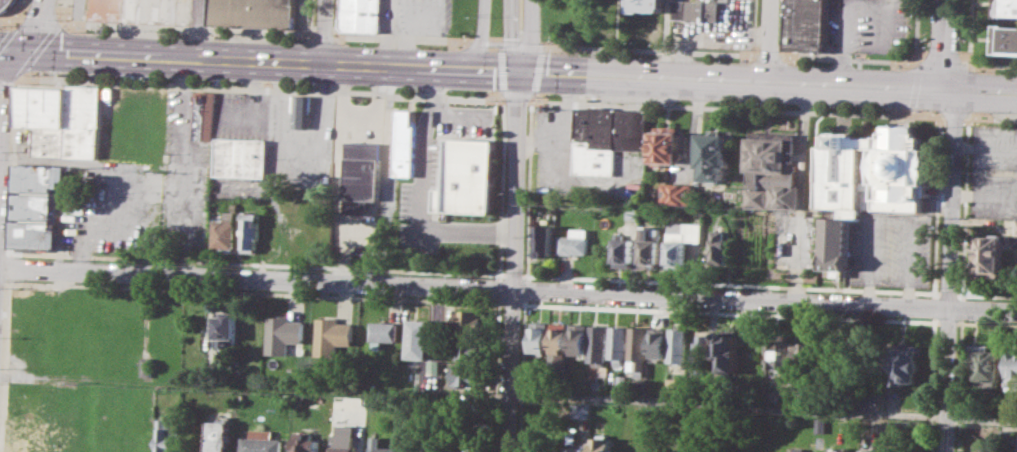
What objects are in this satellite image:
road: (881, 2)
building: (6, 5)
building: (649, 5)
building: (1006, 7)
parking lot: (78, 9)
building: (696, 10)
building: (139, 11)
building: (254, 13)
road: (15, 14)
road: (66, 14)
building: (363, 15)
road: (337, 18)
park: (517, 18)
road: (9, 20)
building: (806, 24)
road: (876, 24)
parking lot: (866, 25)
road: (34, 26)
road: (754, 27)
road: (841, 27)
road: (189, 28)
road: (781, 28)
road: (198, 29)
road: (913, 30)
road: (326, 31)
road: (482, 34)
road: (4, 35)
road: (514, 35)
road: (530, 35)
road: (402, 38)
road: (323, 39)
building: (1005, 39)
road: (44, 40)
road: (769, 40)
road: (479, 42)
road: (495, 43)
road: (940, 44)
road: (538, 46)
road: (649, 49)
traffic signals: (20, 50)
road: (767, 54)
road: (968, 56)
road: (849, 58)
road: (940, 62)
road: (913, 63)
road: (965, 63)
road: (8, 65)
road: (508, 69)
traffic signals: (521, 70)
road: (912, 85)
road: (262, 88)
flagpole: (360, 98)
road: (732, 107)
road: (360, 109)
road: (907, 110)
building: (304, 111)
road: (460, 113)
road: (953, 115)
building: (205, 116)
road: (990, 117)
building: (60, 120)
road: (559, 120)
building: (633, 128)
building: (598, 140)
building: (407, 143)
building: (668, 147)
building: (716, 155)
building: (243, 157)
road: (11, 162)
building: (873, 170)
building: (775, 171)
parking lot: (993, 171)
road: (386, 175)
building: (363, 177)
building: (470, 177)
road: (423, 189)
road: (529, 189)
building: (679, 193)
parking lot: (142, 200)
building: (36, 206)
road: (934, 206)
road: (173, 207)
road: (963, 207)
building: (1016, 228)
building: (252, 230)
building: (227, 232)
building: (544, 240)
building: (575, 241)
building: (680, 242)
building: (836, 244)
building: (649, 247)
building: (719, 247)
parking lot: (889, 249)
building: (622, 250)
building: (988, 255)
road: (513, 260)
road: (344, 266)
road: (9, 267)
road: (948, 270)
road: (498, 273)
road: (512, 274)
road: (729, 283)
road: (498, 288)
road: (525, 288)
road: (508, 290)
road: (947, 293)
road: (327, 295)
road: (986, 295)
road: (498, 302)
road: (511, 302)
road: (525, 303)
road: (932, 307)
road: (961, 307)
road: (731, 312)
building: (466, 319)
road: (946, 322)
road: (985, 324)
building: (226, 327)
building: (383, 332)
building: (283, 333)
building: (332, 335)
building: (539, 336)
building: (420, 337)
building: (559, 337)
building: (579, 338)
building: (618, 341)
building: (658, 342)
building: (598, 343)
building: (678, 346)
building: (466, 347)
building: (638, 349)
building: (700, 350)
building: (726, 350)
building: (777, 352)
building: (802, 355)
building: (826, 356)
building: (906, 364)
road: (4, 365)
building: (987, 365)
building: (146, 366)
building: (1012, 368)
building: (465, 374)
road: (521, 377)
building: (427, 380)
building: (620, 380)
building: (536, 383)
building: (672, 383)
road: (930, 384)
road: (958, 384)
road: (255, 386)
building: (641, 388)
building: (873, 399)
road: (763, 407)
building: (54, 410)
building: (581, 410)
building: (821, 424)
building: (162, 434)
building: (219, 434)
building: (1006, 435)
building: (260, 441)
building: (1016, 441)
building: (306, 442)
building: (432, 443)
building: (479, 444)
building: (602, 444)
building: (380, 445)
building: (342, 447)
building: (576, 448)
building: (865, 450)
building: (42, 451)
building: (802, 451)

